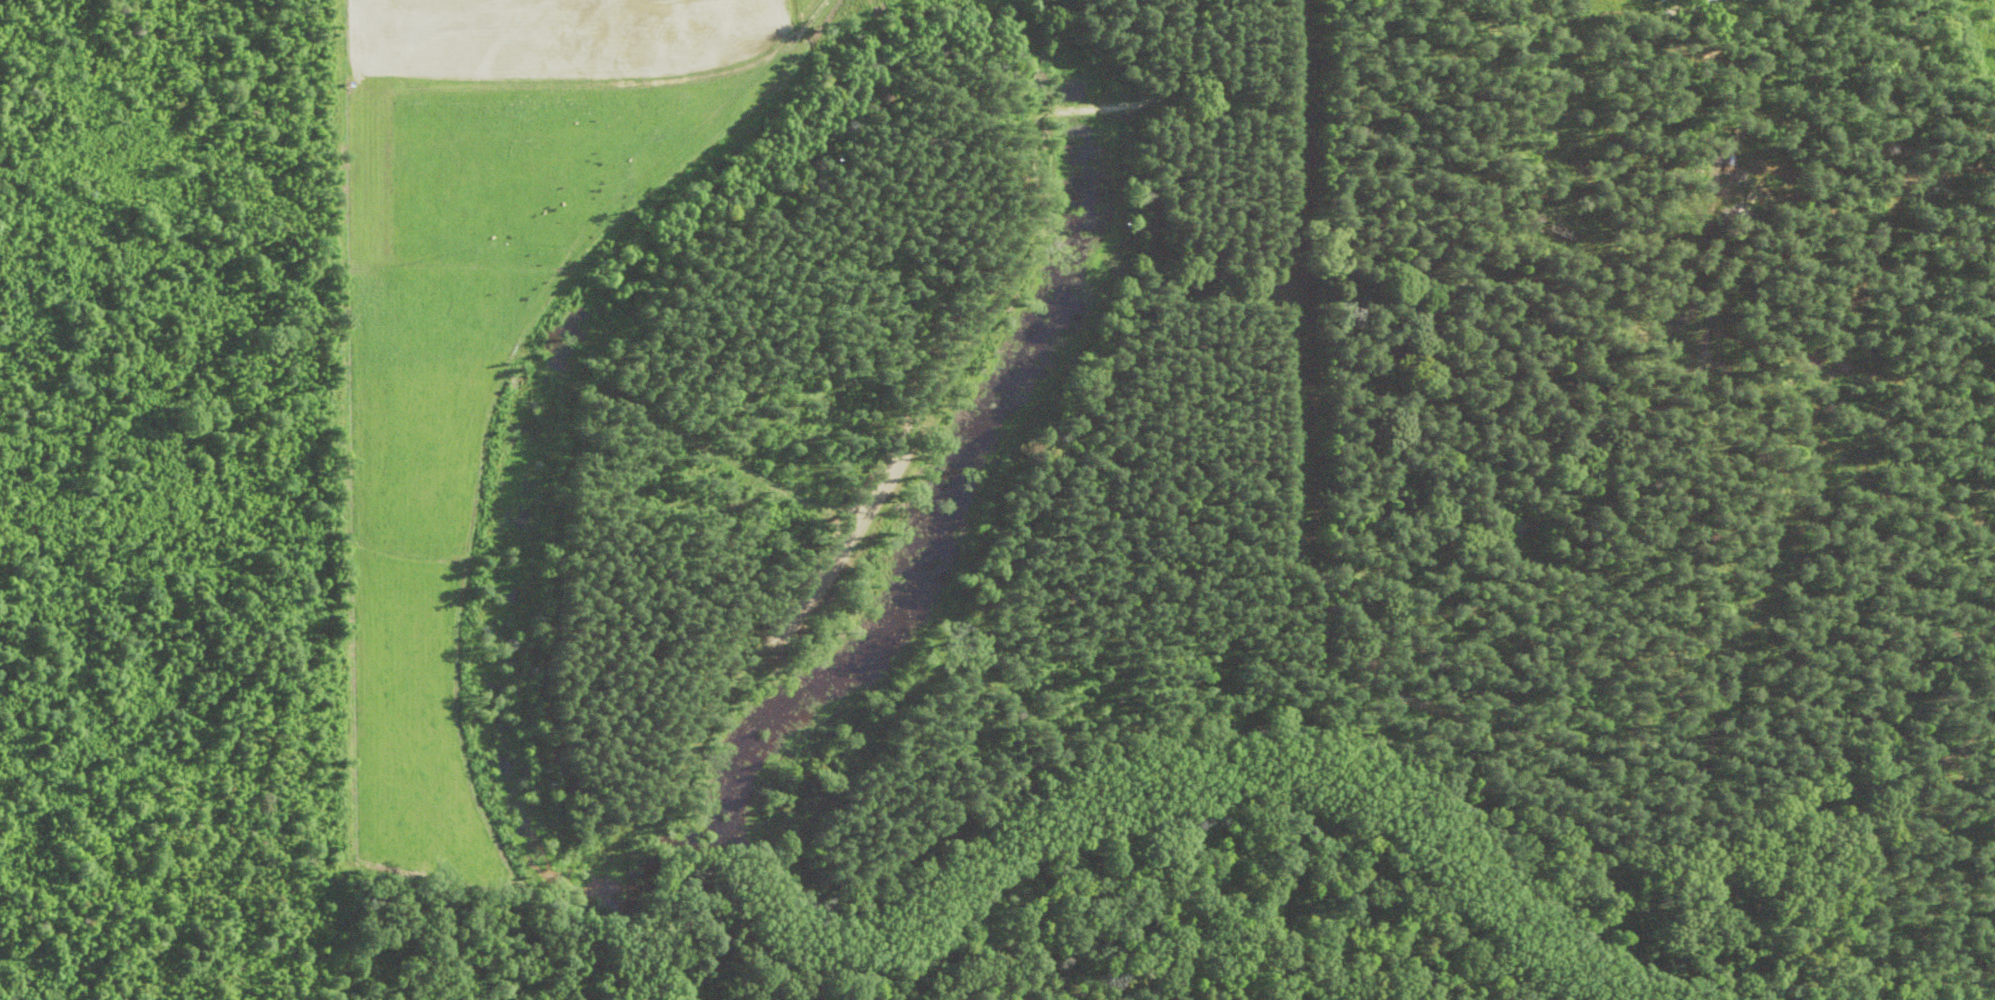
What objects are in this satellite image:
building: (1704, 1)

